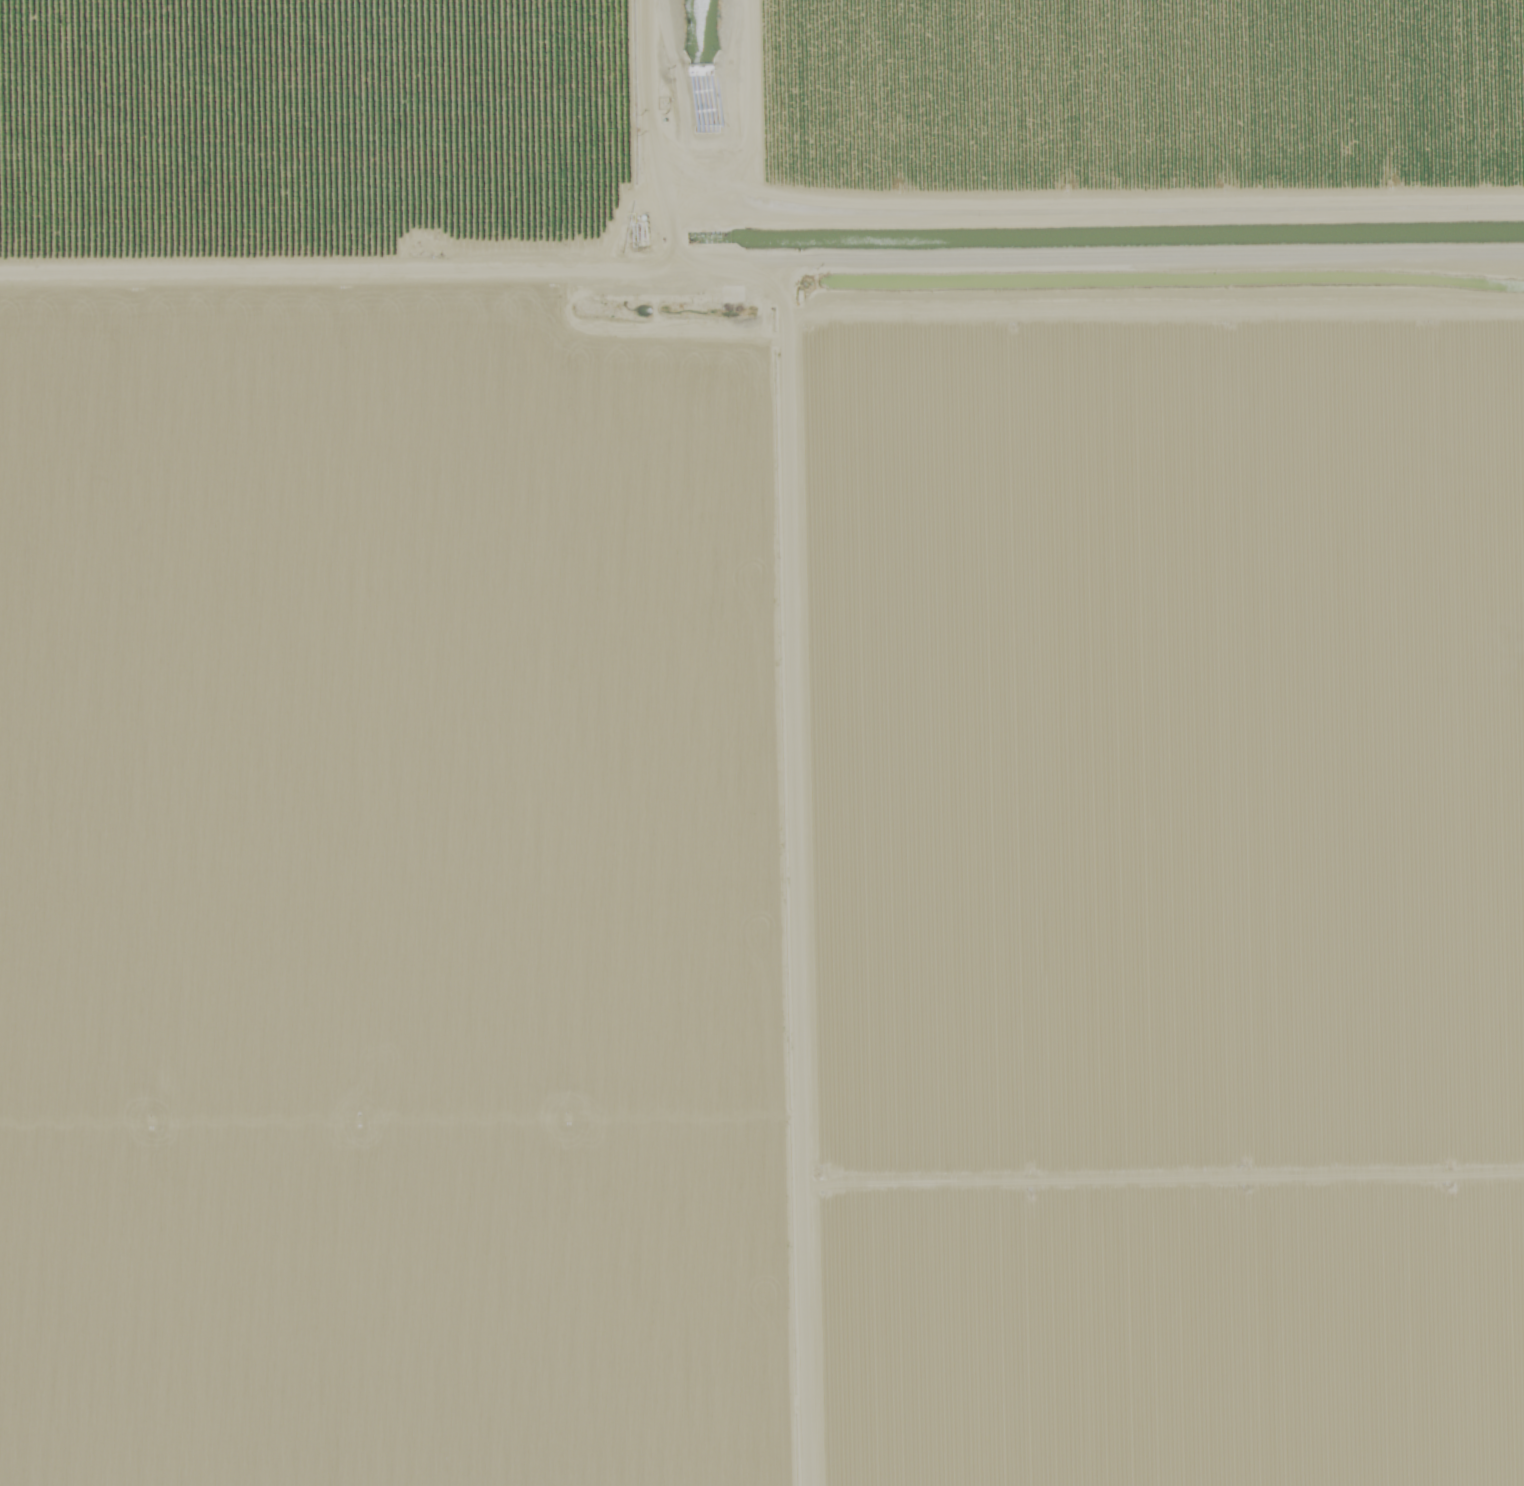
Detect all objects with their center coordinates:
crop: (1141, 98)
road: (643, 138)
road: (719, 142)
road: (679, 280)
road: (1118, 285)
road: (795, 887)
crop: (1184, 887)
crop: (422, 895)

